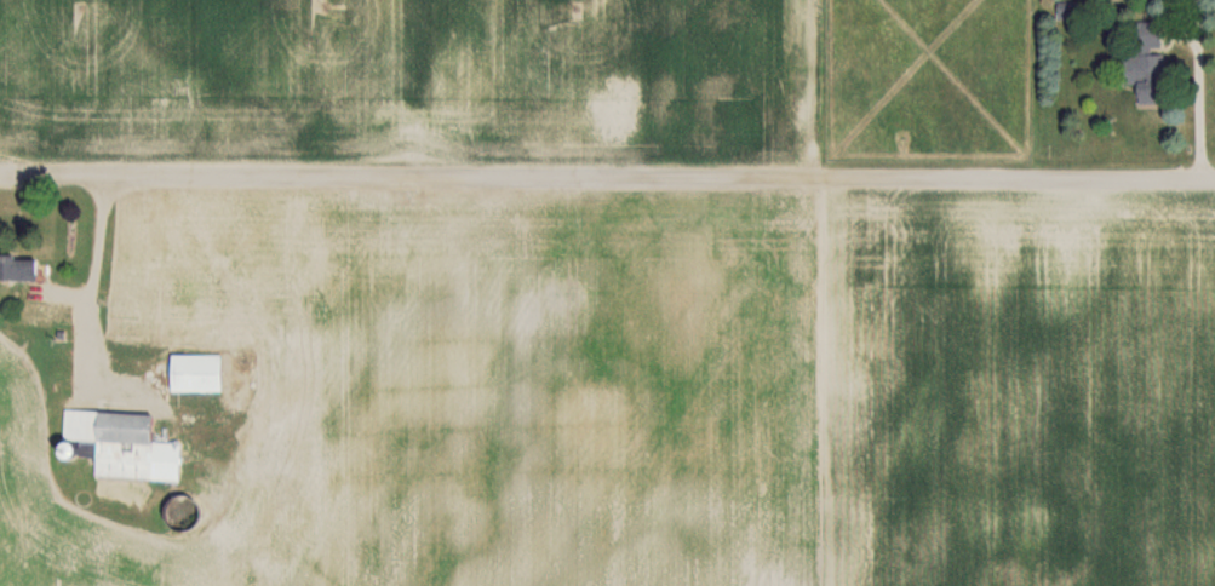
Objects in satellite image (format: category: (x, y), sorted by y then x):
building: (1142, 63)
road: (1180, 88)
road: (607, 177)
building: (16, 268)
road: (90, 280)
building: (195, 372)

